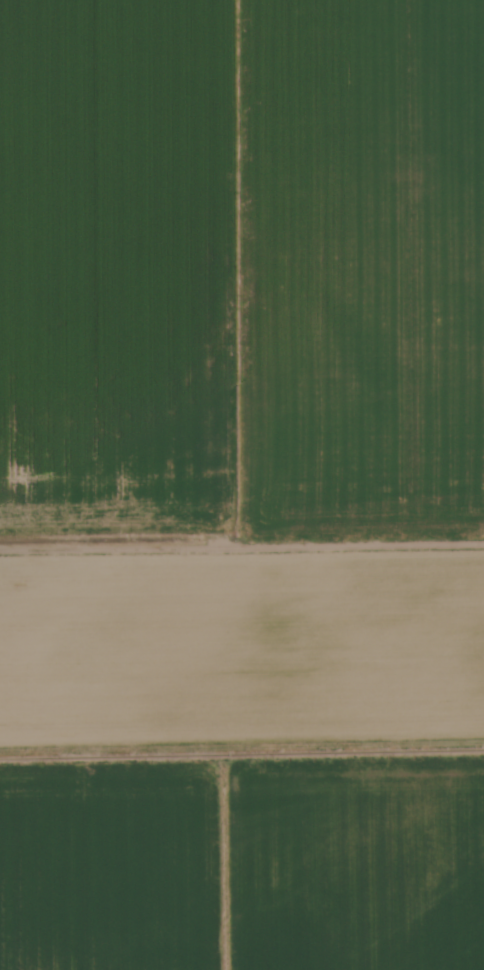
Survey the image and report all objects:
road: (242, 545)

